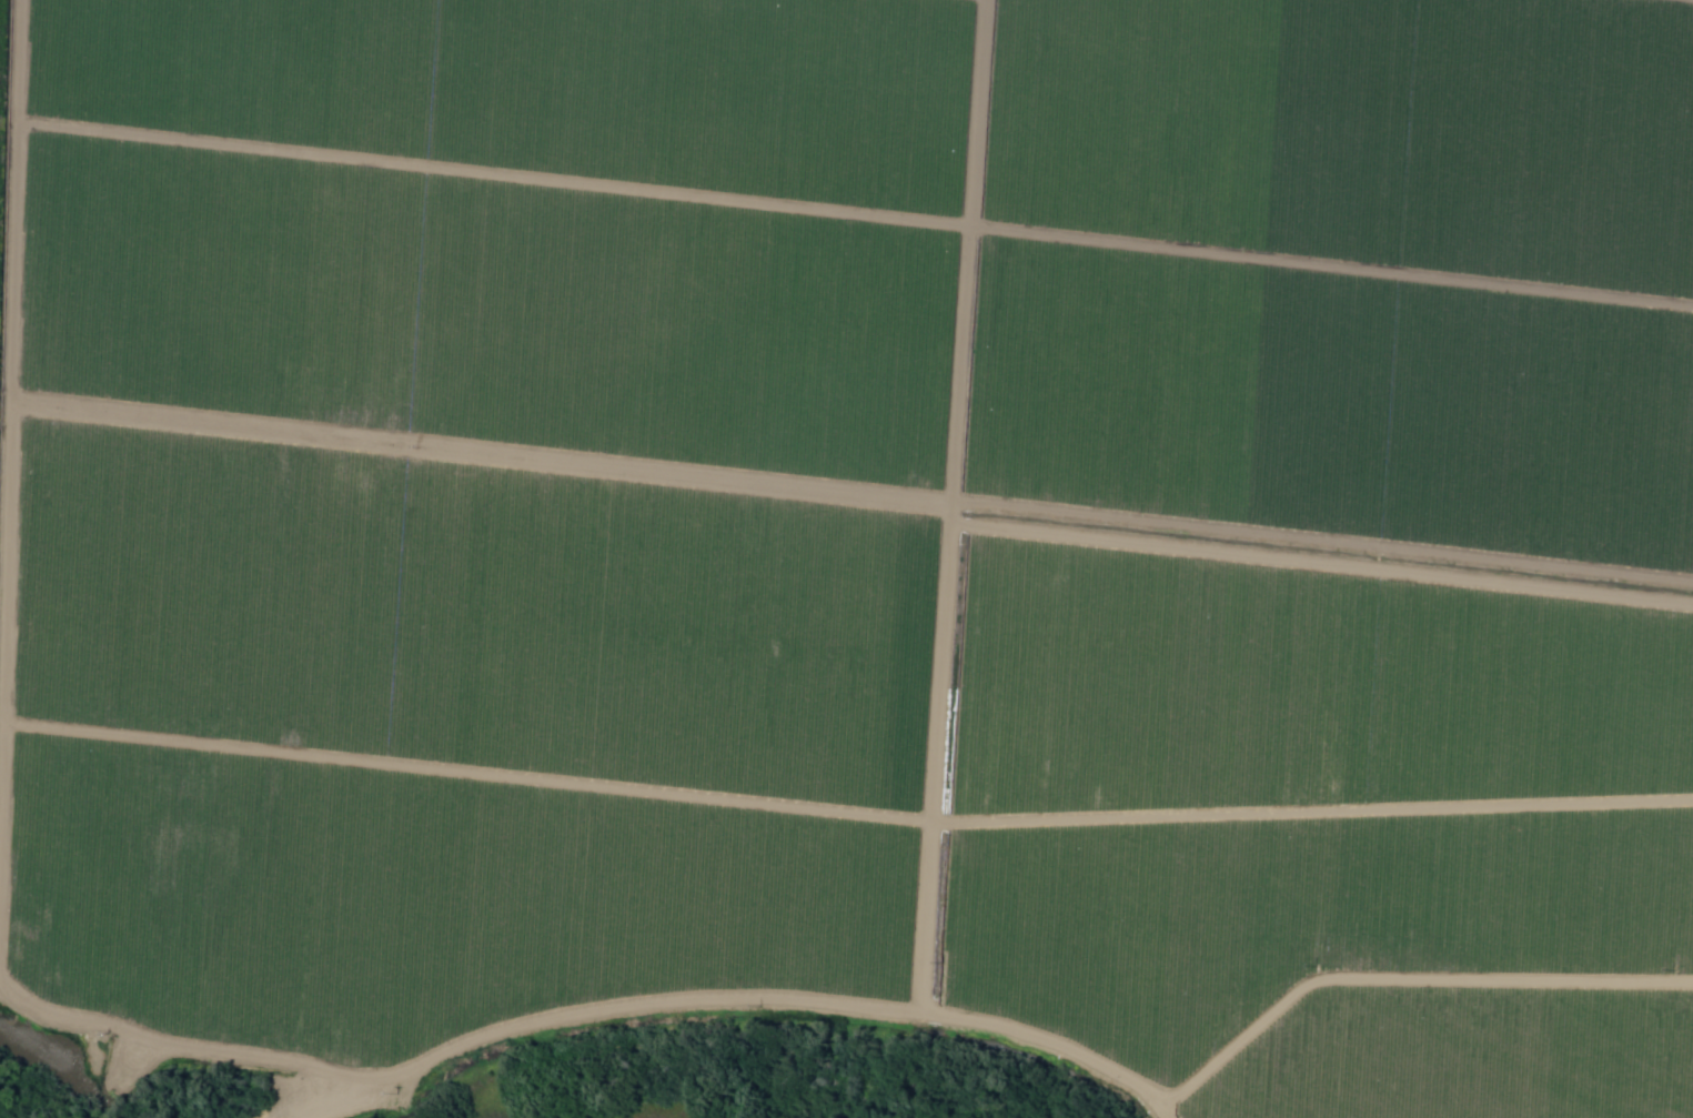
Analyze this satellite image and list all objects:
crop: (530, 89)
crop: (1346, 272)
crop: (486, 315)
crop: (467, 616)
crop: (1299, 689)
crop: (426, 897)
crop: (1294, 919)
crop: (1472, 1060)

